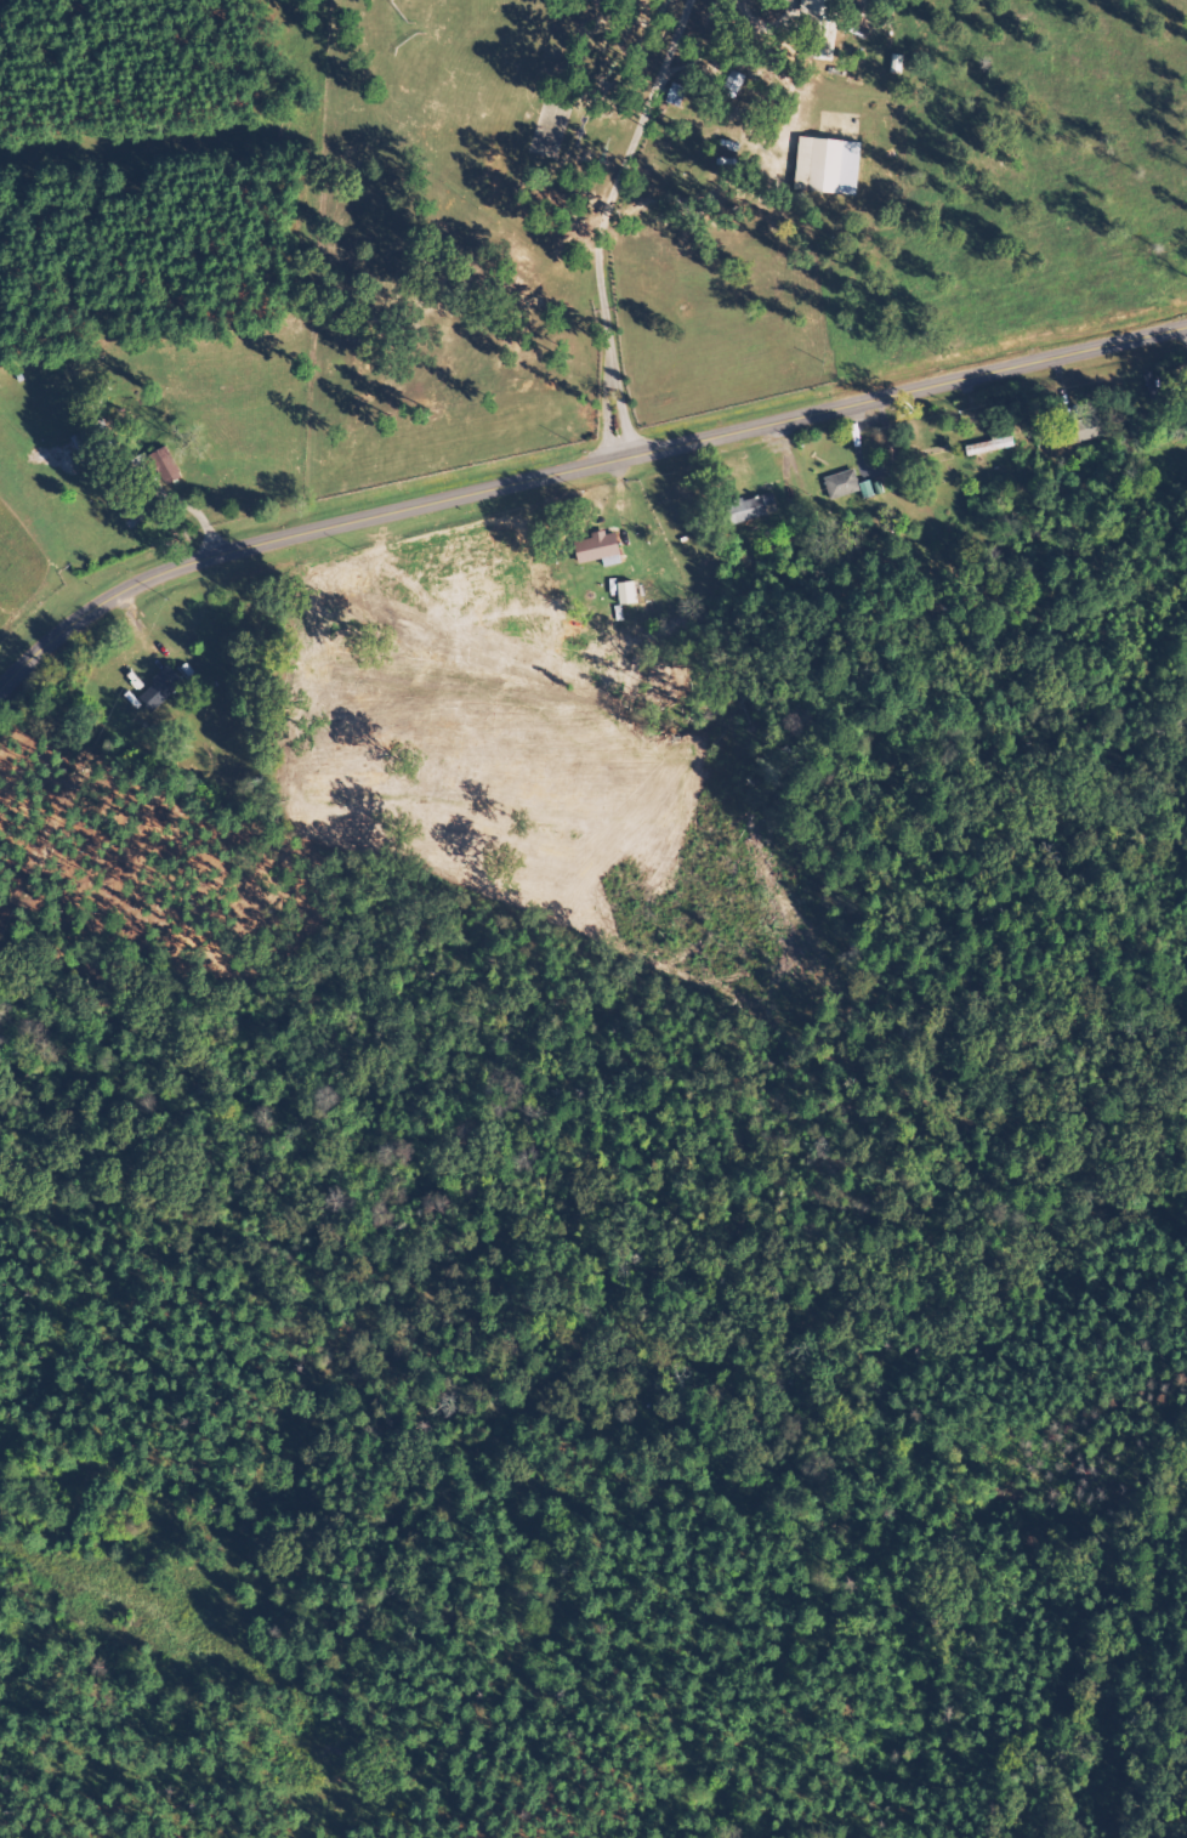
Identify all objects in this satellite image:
building: (829, 165)
building: (1086, 429)
building: (97, 442)
building: (990, 447)
road: (573, 472)
building: (848, 487)
building: (749, 510)
building: (604, 548)
building: (169, 688)

